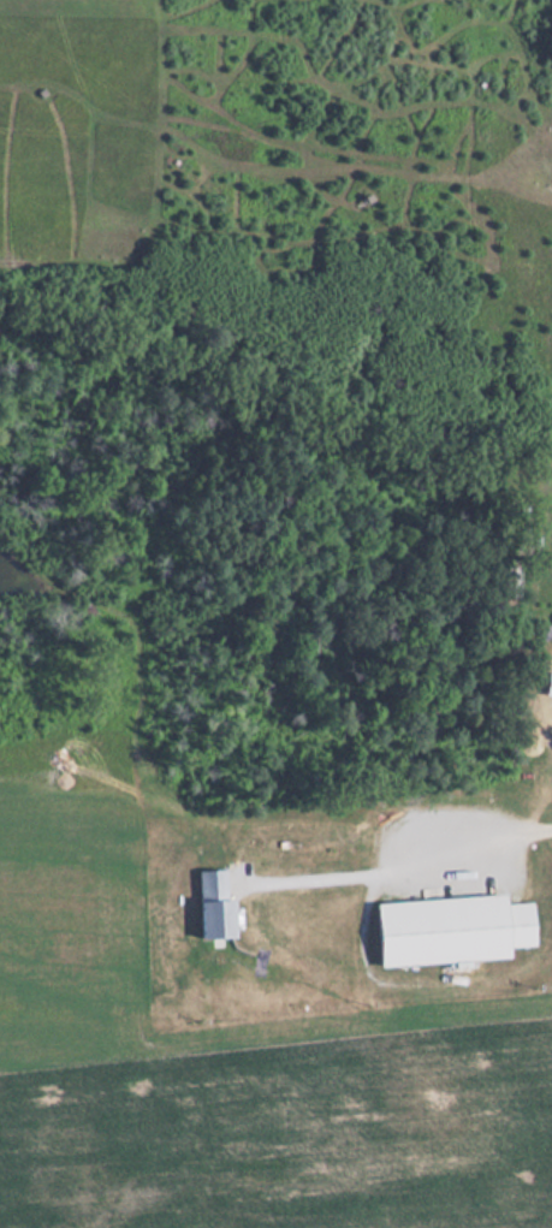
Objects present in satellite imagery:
building: (220, 902)
building: (453, 929)

